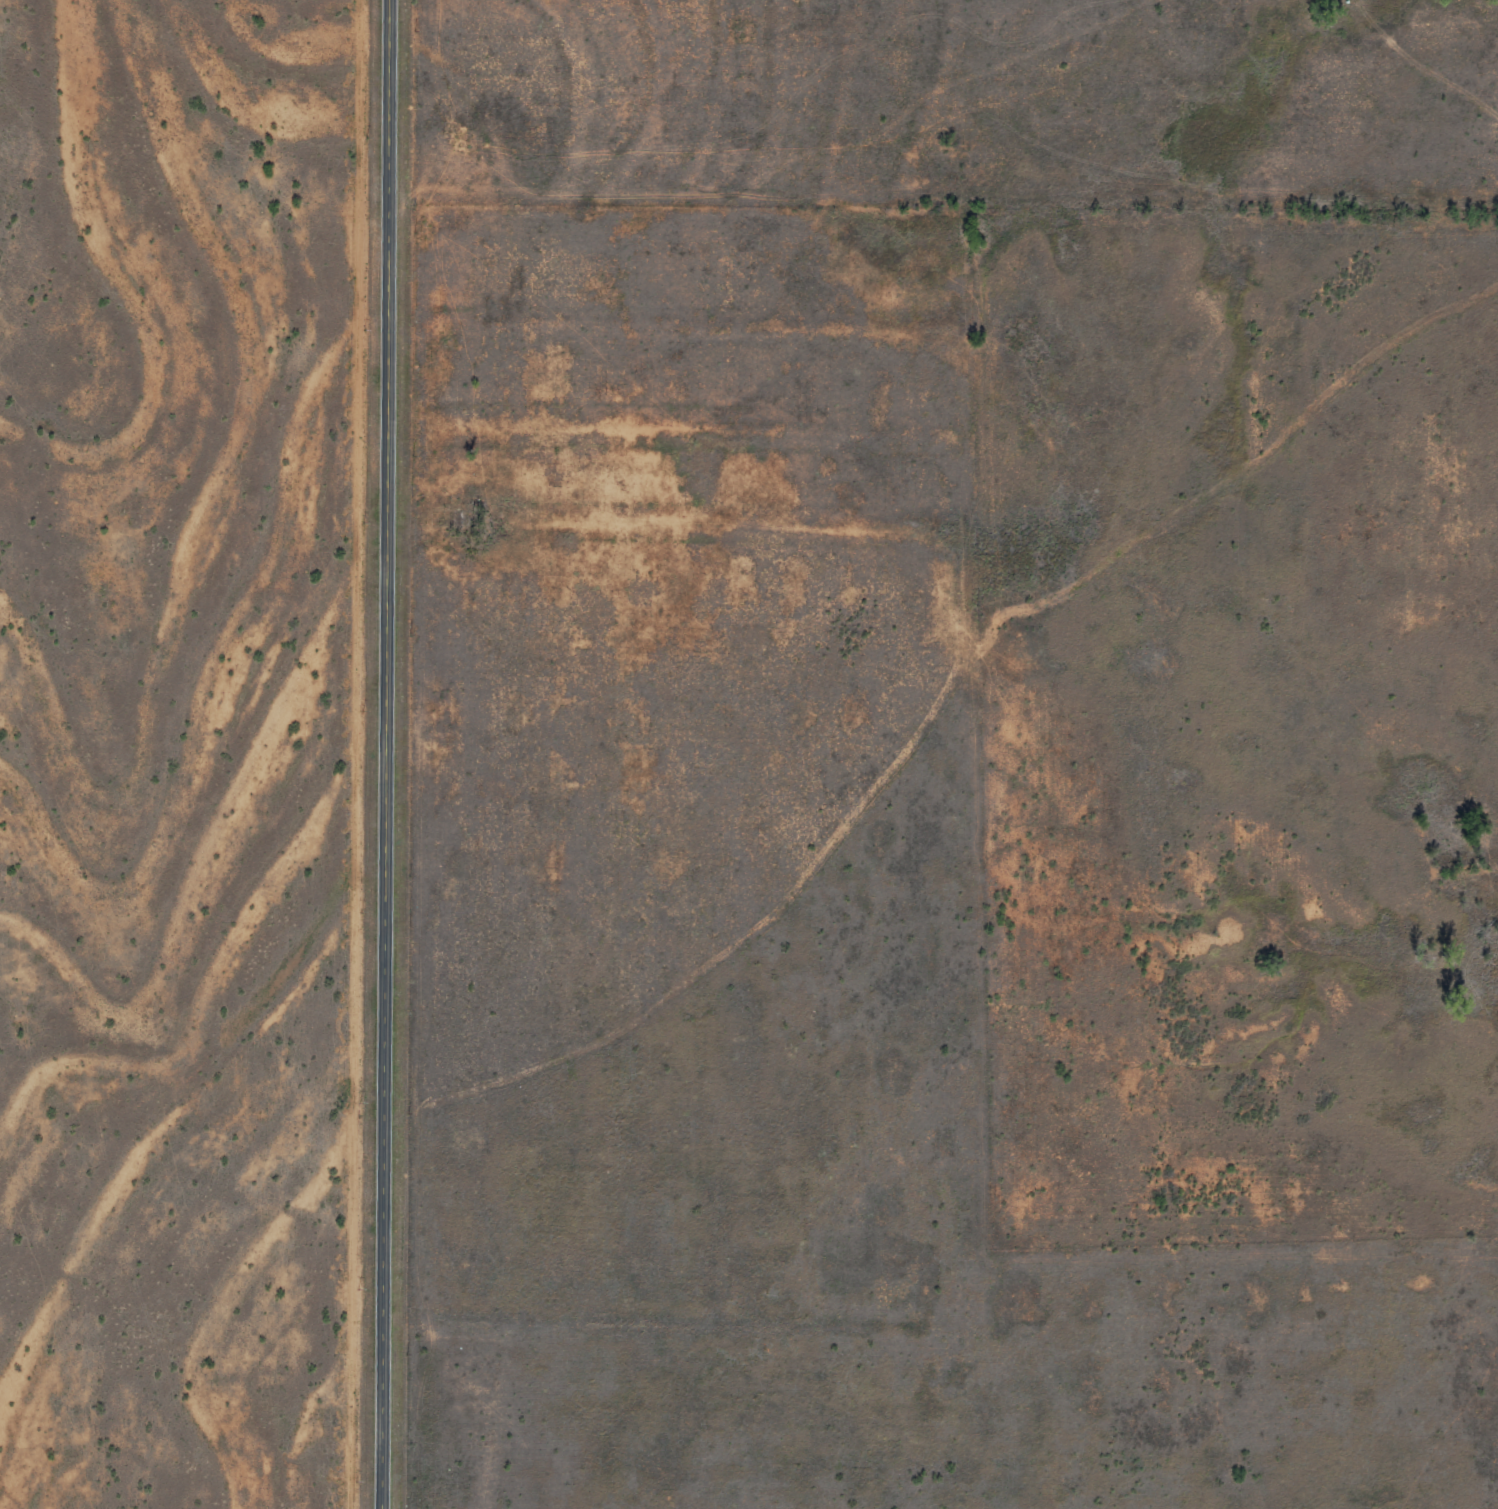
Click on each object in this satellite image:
road: (389, 754)

